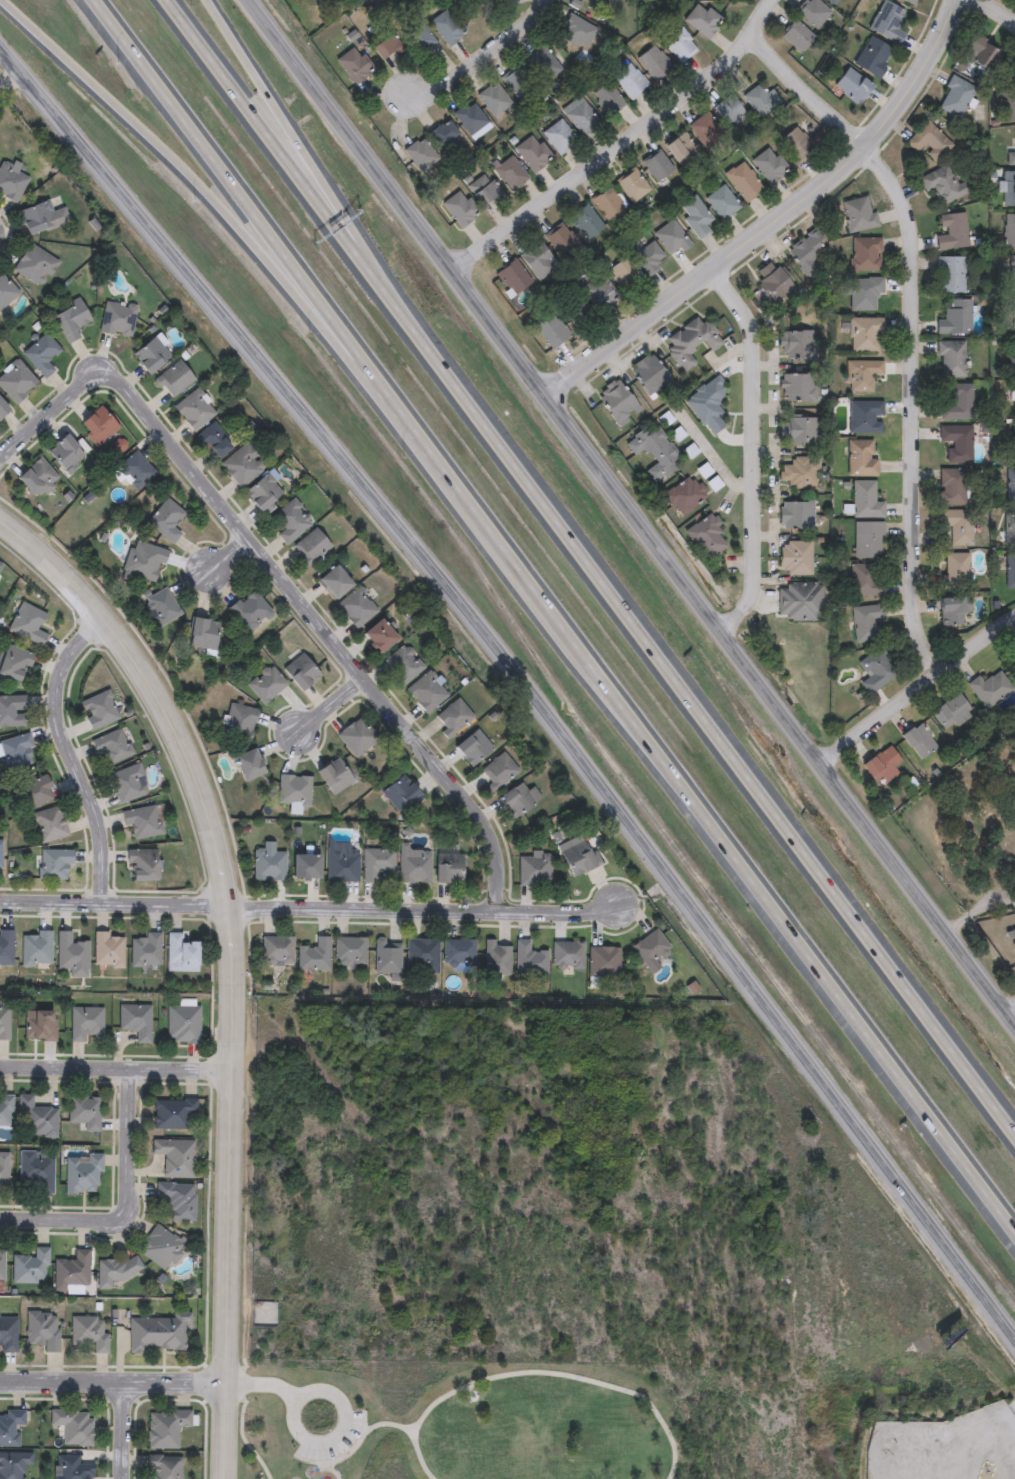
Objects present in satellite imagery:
road: (246, 0)
building: (833, 1)
building: (909, 2)
road: (999, 9)
building: (812, 12)
building: (702, 20)
building: (887, 22)
building: (447, 27)
building: (577, 31)
building: (418, 36)
building: (796, 36)
building: (680, 45)
building: (386, 47)
building: (982, 53)
building: (873, 57)
road: (479, 58)
building: (654, 62)
building: (543, 64)
building: (355, 65)
road: (10, 78)
building: (629, 80)
building: (518, 83)
building: (851, 86)
building: (955, 97)
building: (608, 98)
building: (762, 99)
building: (495, 100)
road: (272, 101)
building: (1009, 104)
building: (728, 109)
building: (581, 117)
building: (470, 118)
building: (705, 128)
building: (559, 137)
road: (349, 138)
building: (446, 138)
building: (929, 141)
road: (618, 142)
building: (797, 145)
building: (681, 149)
road: (280, 153)
building: (533, 153)
building: (422, 154)
building: (1010, 156)
building: (770, 165)
building: (657, 166)
building: (510, 173)
building: (11, 181)
building: (743, 181)
building: (944, 185)
building: (633, 186)
building: (1008, 188)
building: (484, 189)
road: (217, 201)
building: (722, 203)
building: (609, 204)
building: (461, 209)
road: (250, 211)
building: (858, 214)
building: (695, 216)
building: (42, 217)
road: (777, 221)
building: (585, 222)
building: (951, 231)
building: (1009, 231)
building: (672, 239)
building: (561, 241)
building: (807, 248)
building: (865, 254)
building: (647, 256)
road: (364, 257)
building: (537, 260)
building: (36, 266)
building: (950, 274)
building: (1013, 274)
building: (626, 275)
building: (512, 277)
building: (774, 282)
building: (6, 291)
building: (599, 291)
building: (864, 293)
building: (575, 310)
building: (1014, 316)
building: (955, 317)
building: (118, 320)
building: (71, 321)
road: (915, 324)
building: (552, 330)
building: (865, 335)
building: (691, 342)
building: (797, 344)
building: (42, 355)
building: (152, 355)
building: (1014, 358)
building: (951, 359)
building: (649, 374)
building: (862, 375)
building: (174, 379)
building: (17, 381)
building: (798, 388)
building: (617, 401)
building: (958, 403)
building: (708, 404)
building: (3, 408)
building: (195, 409)
building: (865, 417)
building: (99, 426)
building: (797, 430)
building: (215, 440)
building: (957, 442)
building: (1014, 442)
road: (755, 449)
building: (655, 452)
building: (66, 453)
road: (710, 457)
building: (861, 458)
building: (242, 465)
building: (137, 470)
building: (799, 473)
building: (38, 478)
building: (952, 486)
building: (1011, 486)
building: (265, 494)
building: (684, 495)
building: (866, 500)
building: (796, 514)
building: (167, 520)
building: (293, 522)
road: (482, 523)
building: (956, 527)
building: (1008, 529)
building: (706, 537)
building: (868, 539)
building: (311, 546)
building: (795, 557)
building: (146, 560)
road: (228, 562)
building: (0, 563)
building: (0, 566)
building: (956, 570)
building: (1010, 571)
building: (867, 580)
building: (333, 582)
road: (280, 583)
building: (801, 600)
building: (162, 607)
building: (356, 608)
building: (953, 610)
building: (250, 611)
building: (868, 623)
building: (27, 624)
building: (203, 634)
building: (379, 636)
road: (734, 648)
building: (14, 663)
building: (403, 664)
building: (877, 670)
building: (301, 672)
building: (267, 684)
road: (916, 688)
building: (990, 689)
building: (427, 691)
road: (509, 697)
building: (12, 710)
building: (99, 710)
road: (331, 711)
building: (950, 711)
road: (706, 720)
building: (241, 721)
building: (357, 736)
building: (919, 740)
building: (112, 747)
building: (472, 747)
building: (16, 752)
road: (71, 759)
building: (248, 764)
building: (882, 765)
building: (498, 772)
building: (334, 776)
building: (128, 783)
building: (294, 790)
building: (33, 791)
building: (401, 794)
building: (518, 799)
building: (142, 821)
building: (49, 824)
park: (970, 828)
building: (1, 857)
building: (579, 858)
building: (54, 863)
building: (377, 863)
building: (269, 864)
building: (141, 865)
building: (342, 865)
building: (415, 866)
building: (305, 867)
building: (448, 867)
building: (534, 871)
road: (308, 910)
road: (978, 911)
road: (787, 923)
building: (1014, 939)
building: (6, 948)
building: (651, 948)
building: (36, 949)
building: (107, 949)
building: (278, 949)
building: (145, 950)
building: (350, 950)
building: (70, 952)
building: (459, 952)
building: (180, 954)
building: (314, 955)
building: (567, 955)
building: (387, 956)
building: (422, 956)
building: (496, 958)
building: (530, 959)
road: (235, 961)
building: (604, 962)
building: (4, 1020)
building: (137, 1020)
road: (1014, 1021)
building: (87, 1024)
building: (183, 1024)
building: (40, 1025)
road: (117, 1067)
building: (6, 1112)
building: (84, 1112)
building: (172, 1114)
building: (37, 1119)
building: (175, 1157)
building: (37, 1171)
building: (3, 1172)
building: (82, 1175)
building: (177, 1200)
road: (127, 1205)
building: (160, 1248)
building: (2, 1264)
building: (29, 1267)
building: (115, 1271)
building: (71, 1272)
building: (43, 1330)
building: (90, 1332)
building: (8, 1333)
building: (157, 1334)
road: (578, 1368)
road: (113, 1380)
road: (263, 1385)
road: (339, 1398)
road: (396, 1413)
park: (512, 1422)
building: (74, 1427)
building: (11, 1428)
building: (166, 1429)
road: (124, 1430)
road: (244, 1434)
road: (429, 1452)
building: (14, 1465)
building: (164, 1468)
building: (71, 1469)

